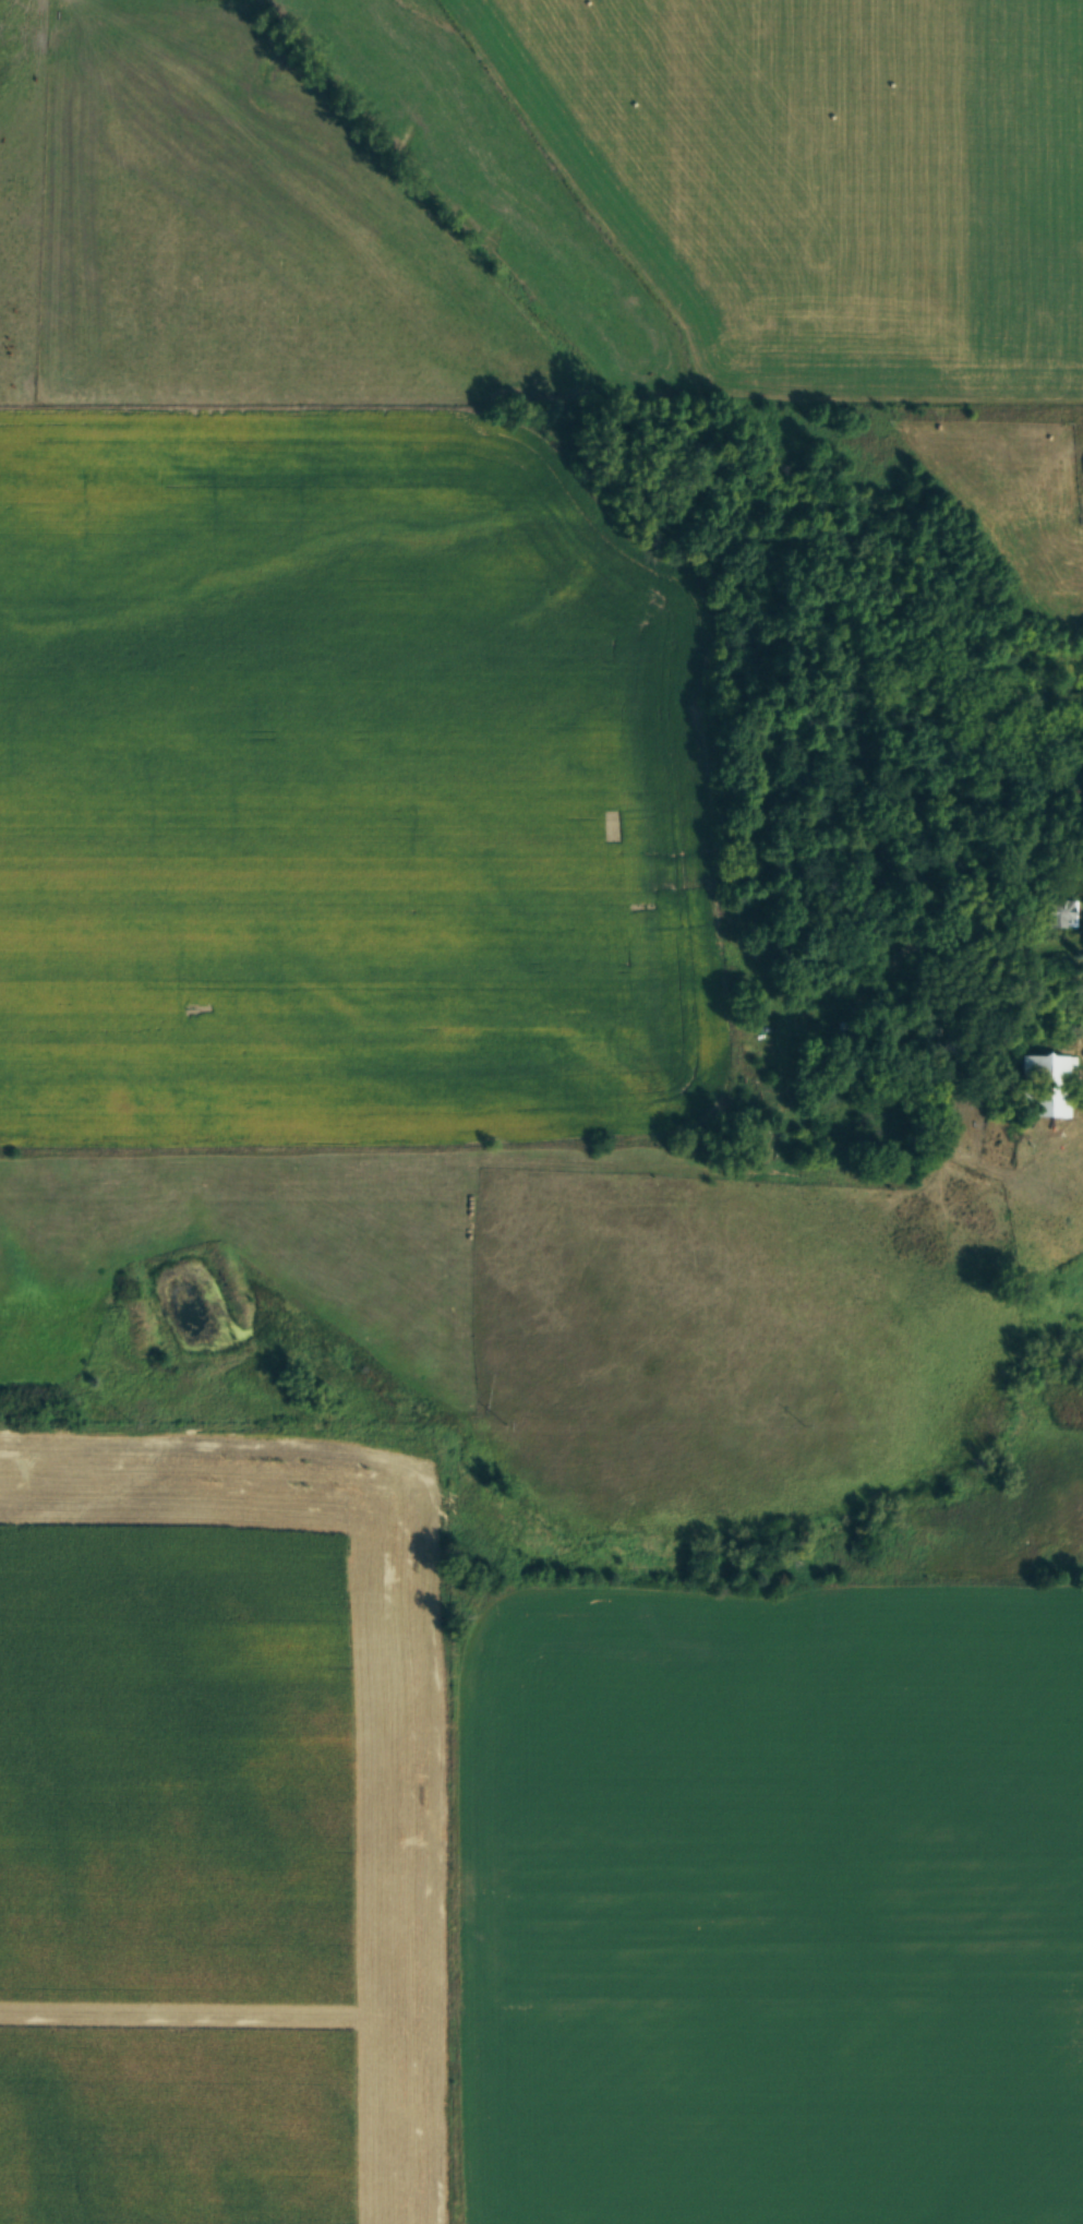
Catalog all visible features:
building: (1057, 912)
building: (1045, 1084)

